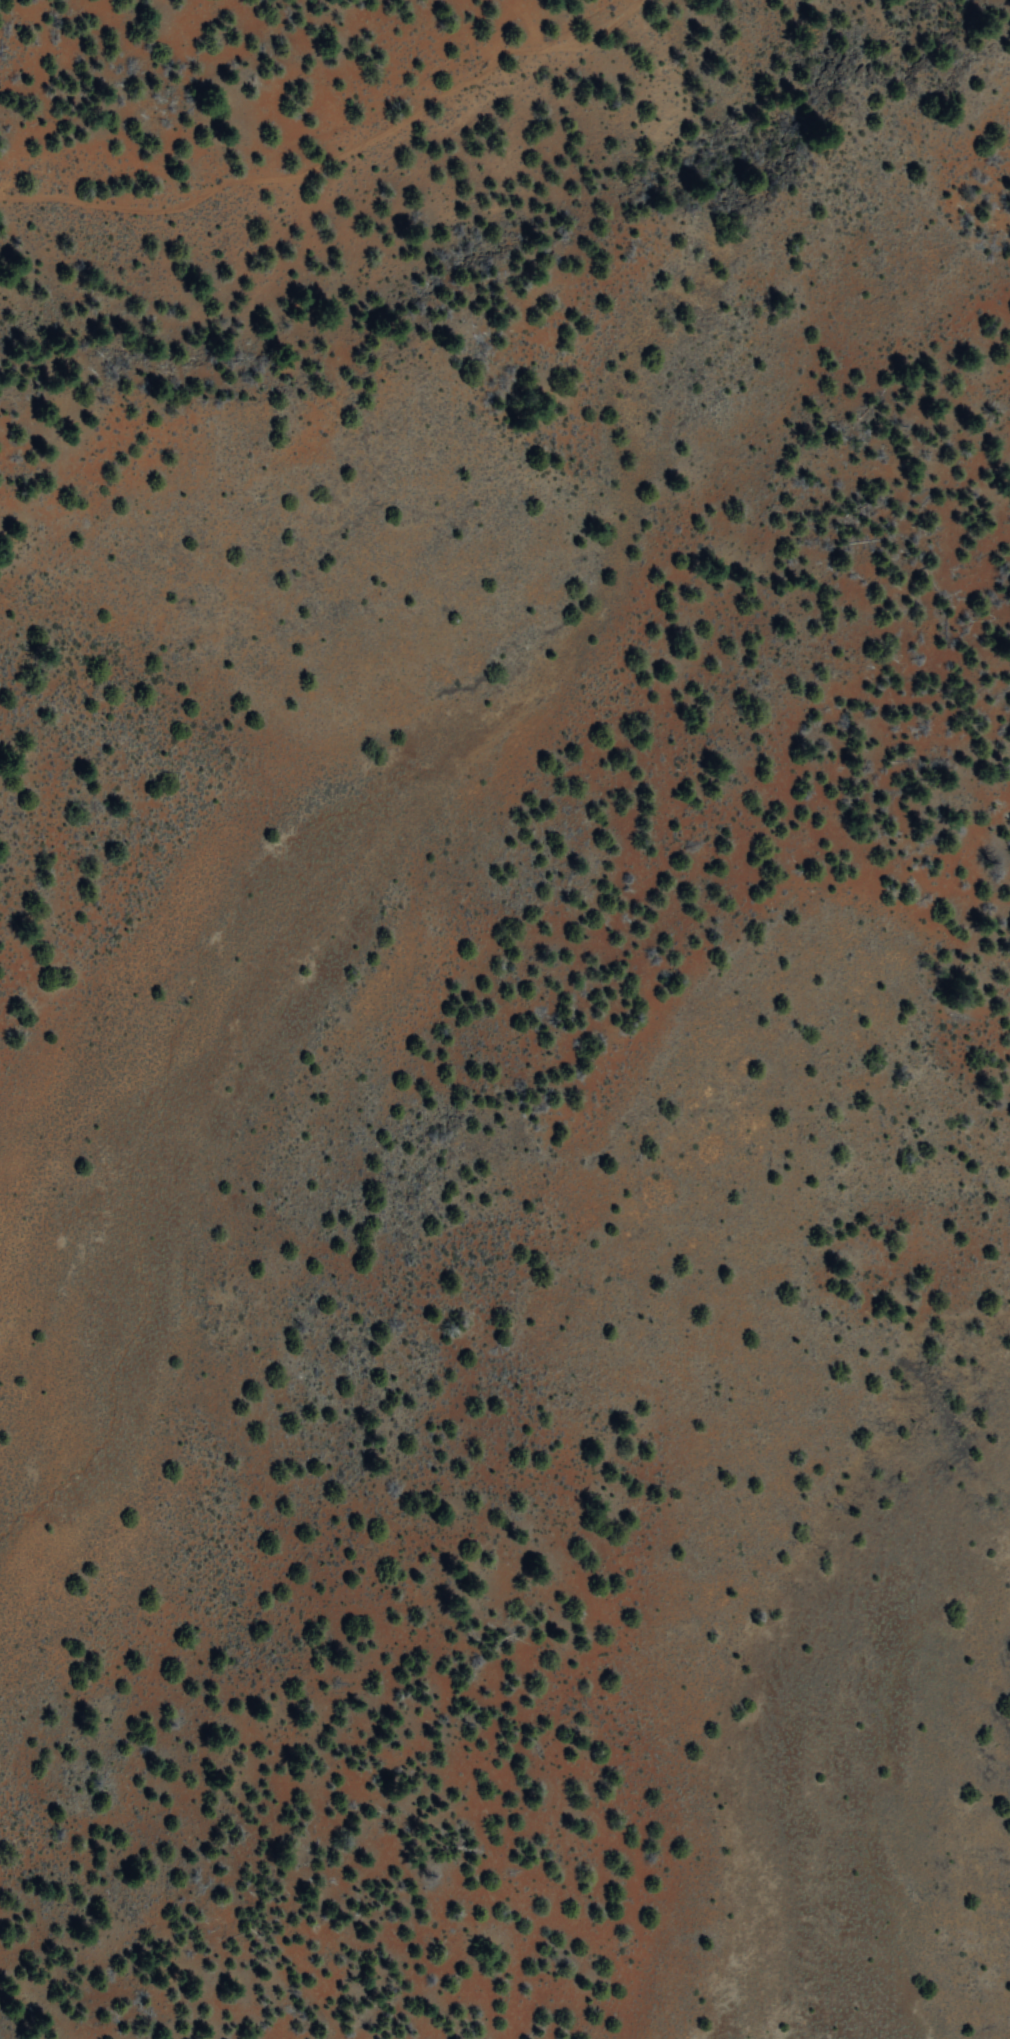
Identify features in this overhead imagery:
road: (399, 237)
road: (33, 750)

